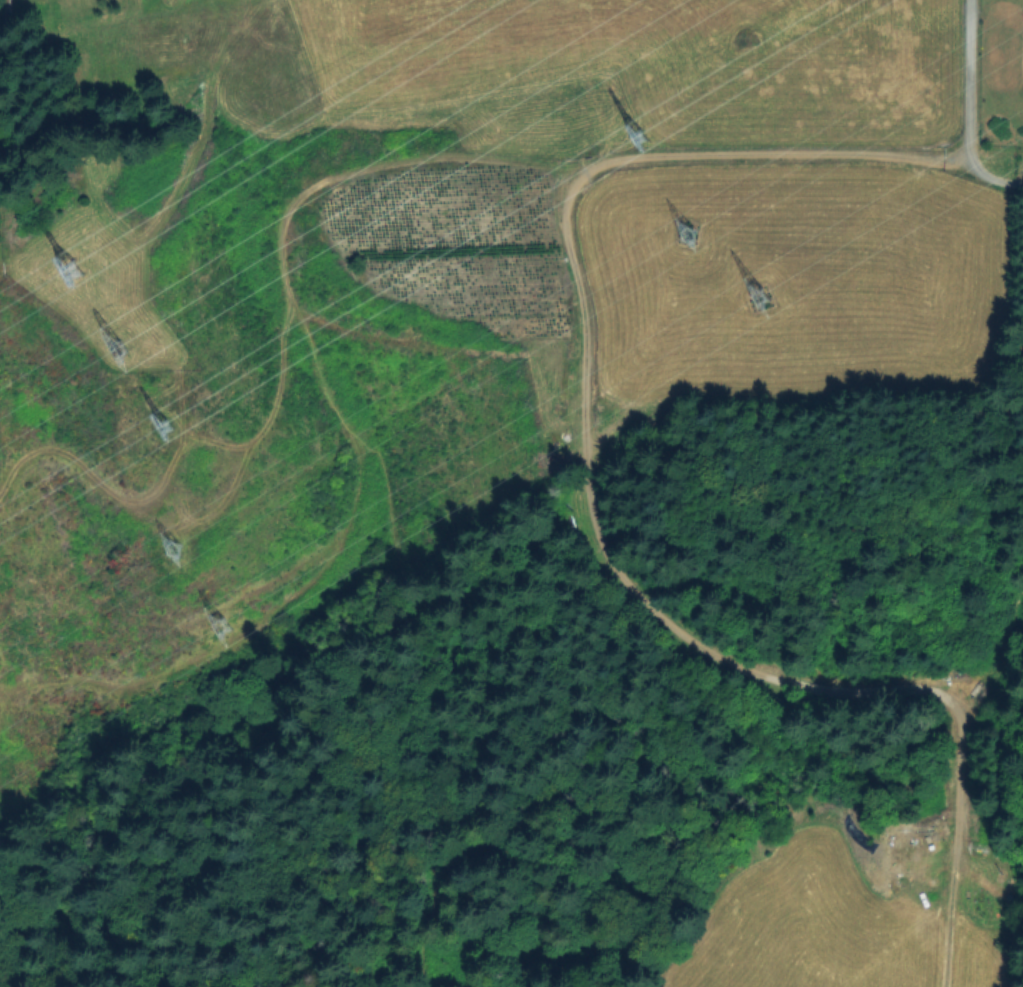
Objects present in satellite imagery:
building: (38, 19)
road: (974, 106)
power tower: (650, 134)
power tower: (677, 228)
power tower: (81, 265)
power tower: (746, 302)
power tower: (121, 346)
power tower: (172, 425)
road: (588, 507)
power tower: (175, 550)
power tower: (211, 625)

